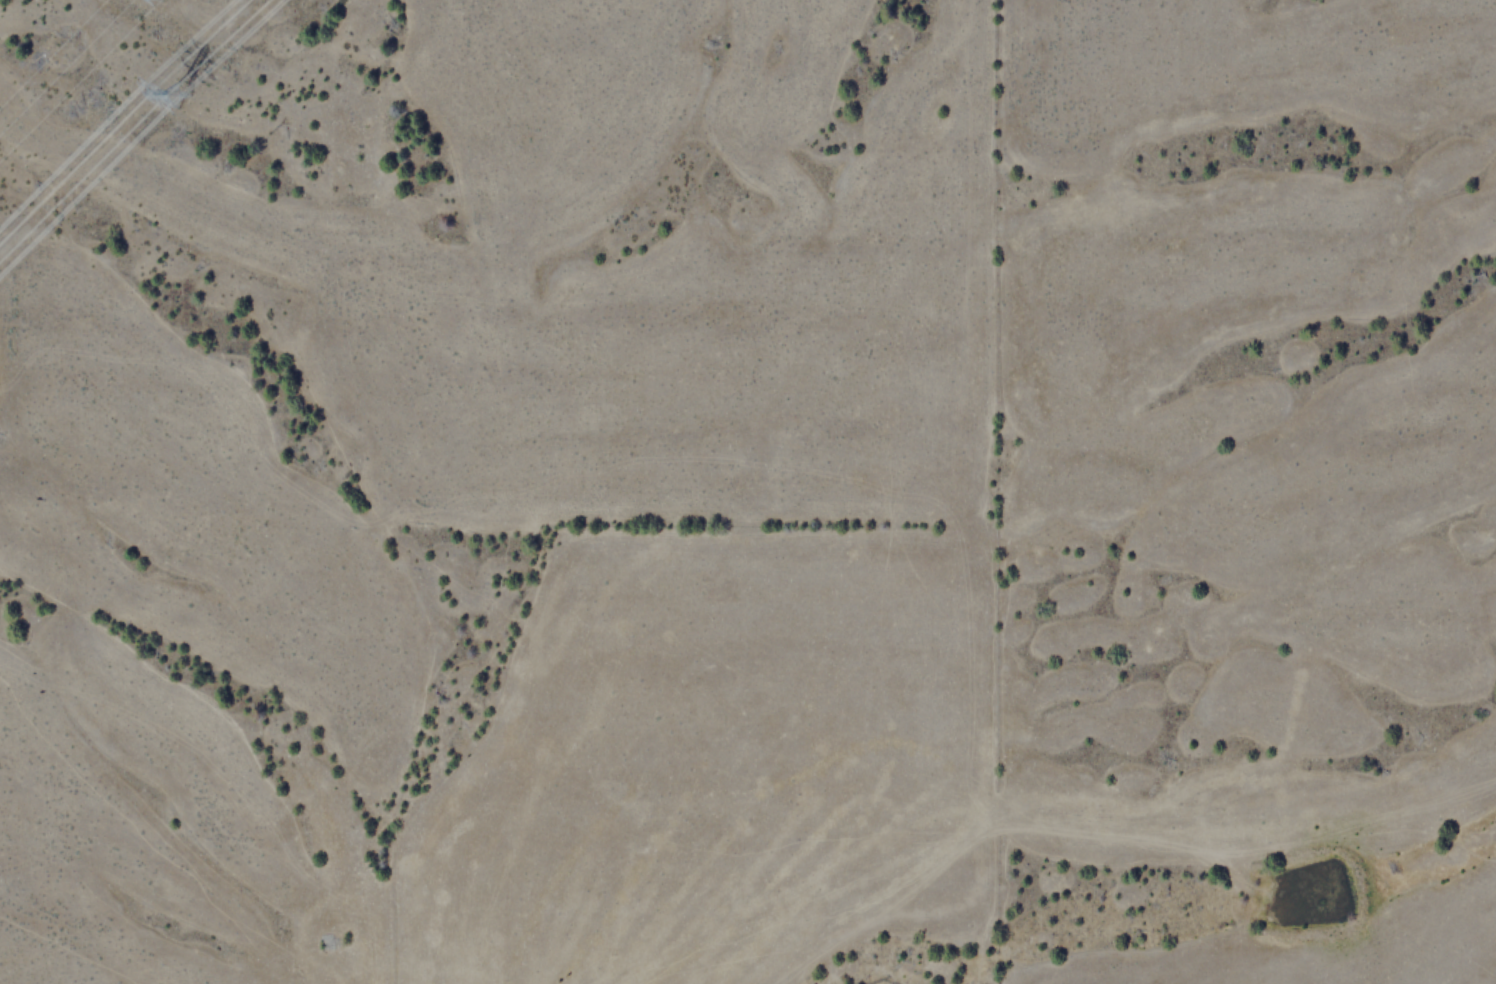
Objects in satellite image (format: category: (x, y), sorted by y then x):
power tower: (178, 91)

